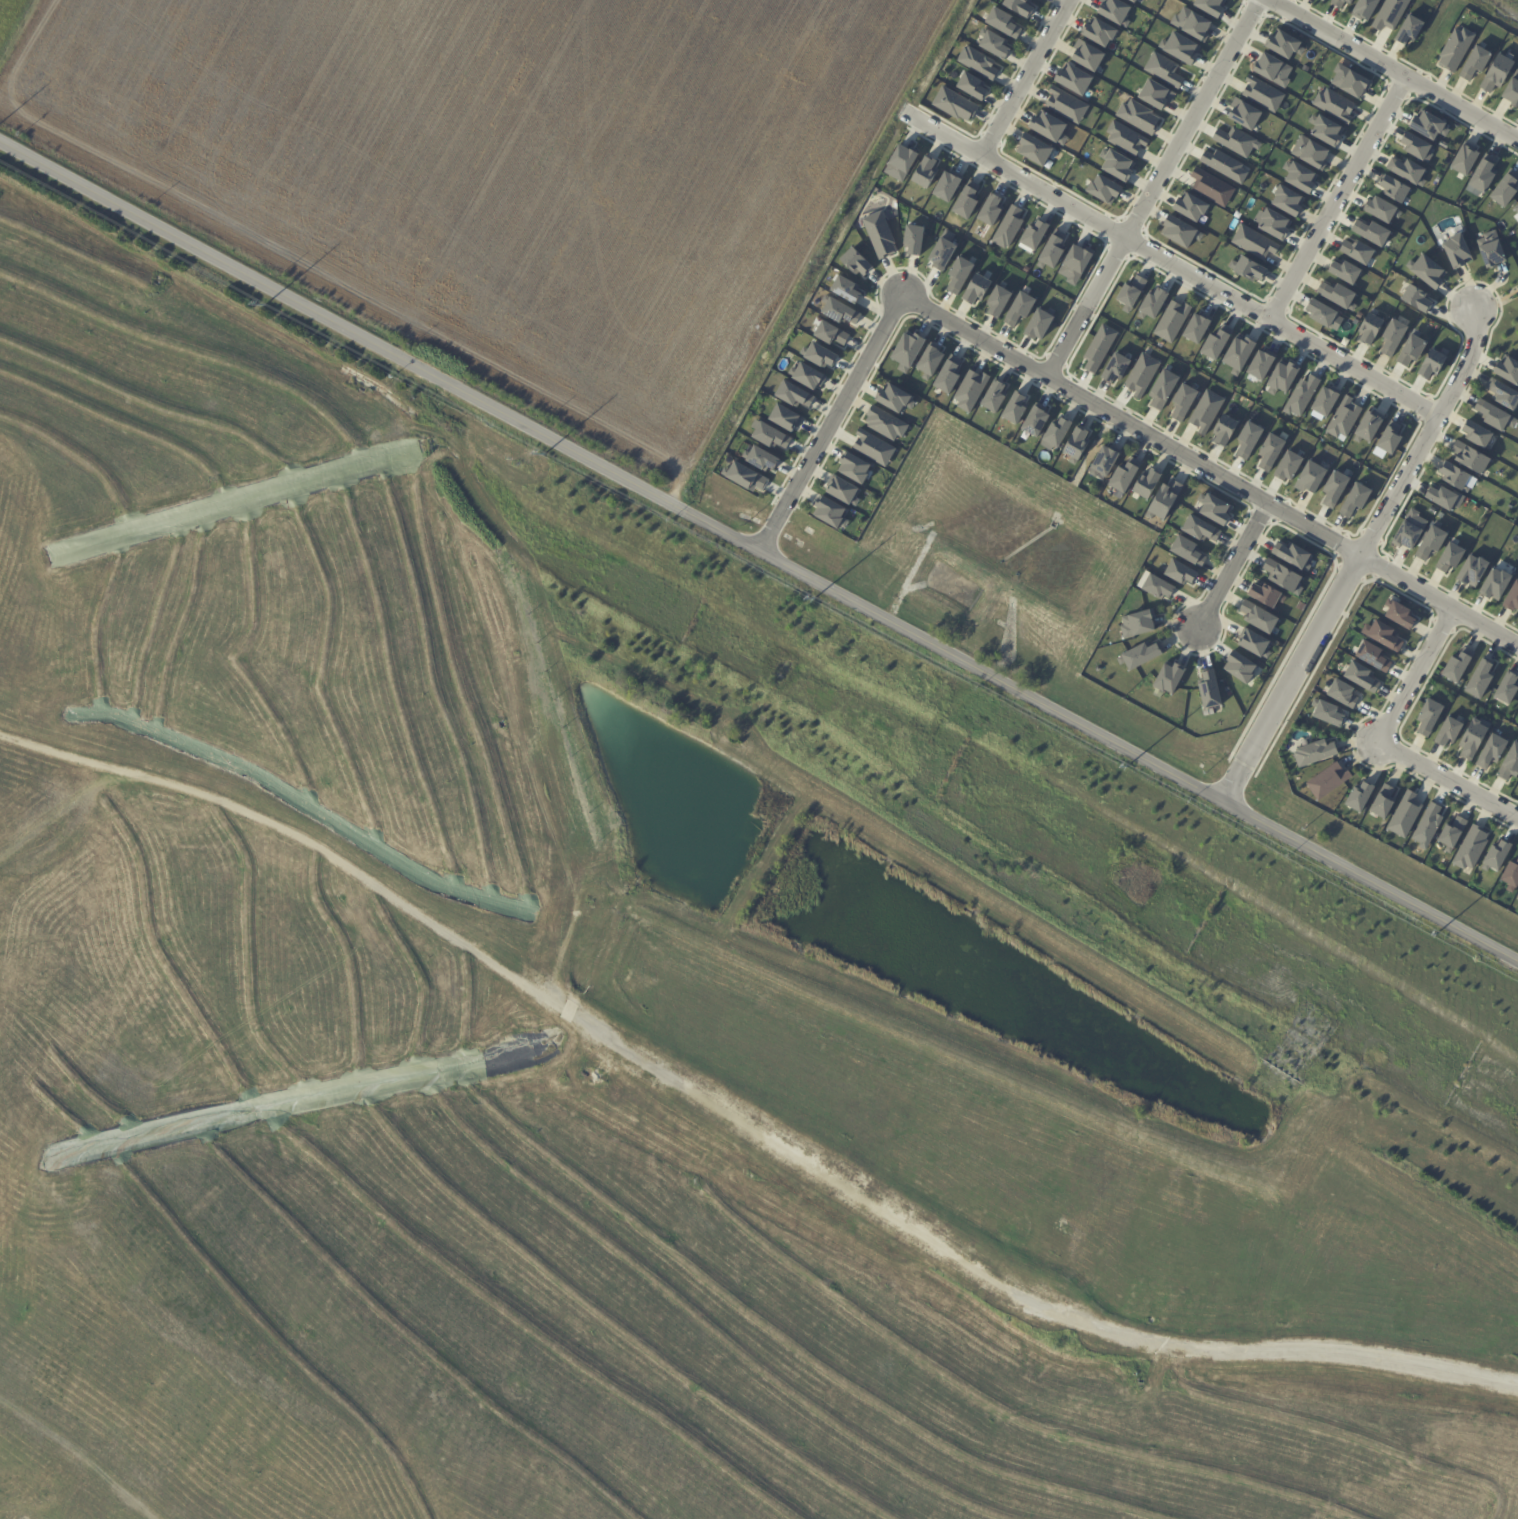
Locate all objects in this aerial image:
building: (1134, 0)
park: (1517, 0)
building: (1131, 1)
building: (1339, 2)
building: (1018, 6)
building: (1209, 6)
building: (1364, 8)
building: (1114, 12)
building: (1389, 13)
building: (1001, 22)
building: (1191, 23)
building: (1408, 29)
building: (1098, 32)
building: (992, 43)
building: (1283, 44)
building: (1178, 47)
building: (1455, 48)
building: (1087, 56)
building: (977, 62)
building: (1474, 62)
building: (1163, 69)
building: (1272, 69)
road: (1397, 69)
building: (1497, 72)
building: (1073, 79)
road: (1023, 80)
building: (1349, 80)
building: (970, 85)
building: (1512, 89)
building: (1262, 93)
building: (1154, 94)
building: (954, 104)
building: (1333, 104)
building: (1065, 105)
building: (1243, 113)
building: (1137, 116)
building: (1429, 125)
building: (1048, 127)
building: (1326, 130)
building: (1125, 137)
building: (1236, 141)
building: (1415, 145)
building: (1033, 149)
building: (1309, 152)
building: (1464, 159)
building: (899, 162)
building: (1115, 164)
building: (1223, 165)
building: (1407, 170)
building: (924, 171)
building: (1299, 176)
building: (1480, 177)
building: (945, 185)
road: (1150, 186)
building: (1211, 187)
building: (1393, 188)
building: (1103, 189)
building: (1504, 189)
road: (1336, 195)
building: (1286, 200)
building: (964, 202)
building: (1190, 206)
building: (1516, 208)
building: (989, 209)
building: (1382, 209)
building: (1272, 223)
building: (1007, 227)
building: (1180, 231)
building: (1371, 232)
building: (879, 234)
building: (1033, 234)
building: (912, 239)
building: (1253, 242)
building: (1491, 249)
building: (1456, 250)
building: (1050, 251)
building: (1357, 251)
building: (940, 252)
building: (854, 262)
building: (1074, 263)
road: (1176, 267)
building: (1247, 268)
building: (1426, 270)
building: (1344, 271)
building: (958, 274)
building: (975, 288)
building: (844, 289)
building: (1130, 292)
building: (1337, 294)
building: (1416, 298)
building: (997, 301)
building: (1152, 303)
building: (1018, 308)
building: (839, 311)
building: (1323, 313)
building: (1171, 320)
building: (1037, 323)
building: (1369, 327)
building: (1195, 328)
building: (829, 333)
building: (1393, 336)
building: (1214, 344)
building: (1098, 347)
building: (1410, 349)
building: (906, 350)
building: (817, 354)
building: (1238, 354)
building: (928, 361)
building: (1260, 363)
building: (1431, 364)
building: (1114, 367)
building: (1508, 369)
building: (1141, 373)
building: (806, 375)
building: (945, 376)
building: (1282, 377)
building: (1162, 388)
building: (969, 389)
building: (1503, 393)
building: (792, 394)
building: (1301, 395)
building: (993, 396)
building: (893, 398)
building: (1183, 400)
building: (1324, 400)
building: (1013, 407)
building: (1205, 410)
building: (1494, 415)
building: (783, 417)
building: (1343, 417)
building: (1034, 420)
road: (828, 422)
building: (884, 423)
building: (1367, 426)
building: (1224, 429)
building: (1054, 433)
building: (1476, 433)
building: (768, 435)
building: (1248, 438)
building: (1389, 438)
building: (480, 440)
building: (1075, 444)
building: (872, 447)
building: (1270, 450)
building: (1470, 457)
building: (759, 458)
building: (1102, 461)
building: (1288, 465)
building: (853, 467)
road: (1209, 468)
building: (1454, 475)
building: (745, 476)
building: (1310, 476)
building: (1122, 478)
building: (1145, 482)
building: (1334, 487)
building: (841, 490)
building: (1443, 497)
building: (1164, 498)
building: (1354, 499)
building: (1213, 508)
building: (829, 512)
building: (1199, 528)
building: (1409, 529)
building: (1430, 542)
building: (1187, 550)
road: (759, 553)
building: (1290, 554)
building: (1449, 556)
road: (1355, 558)
road: (1233, 564)
building: (1472, 570)
building: (1179, 571)
building: (1283, 576)
building: (1495, 583)
building: (1157, 586)
building: (1265, 594)
building: (1512, 597)
building: (1400, 615)
building: (1261, 619)
building: (1135, 623)
building: (1382, 634)
building: (1254, 643)
building: (1138, 655)
building: (1372, 656)
building: (1456, 666)
building: (1241, 668)
road: (1414, 673)
building: (1361, 676)
building: (1167, 678)
building: (1479, 678)
building: (1506, 687)
building: (1208, 689)
building: (1342, 692)
building: (1326, 712)
building: (1428, 716)
building: (1448, 731)
building: (1472, 738)
building: (1491, 750)
building: (1313, 751)
building: (1509, 762)
building: (1328, 779)
road: (1447, 779)
building: (1359, 796)
building: (1382, 801)
building: (1404, 814)
building: (1427, 825)
building: (1452, 833)
building: (1470, 847)
building: (1496, 855)
building: (1511, 875)
building: (1517, 896)
building: (1517, 898)
landfill: (539, 1070)

